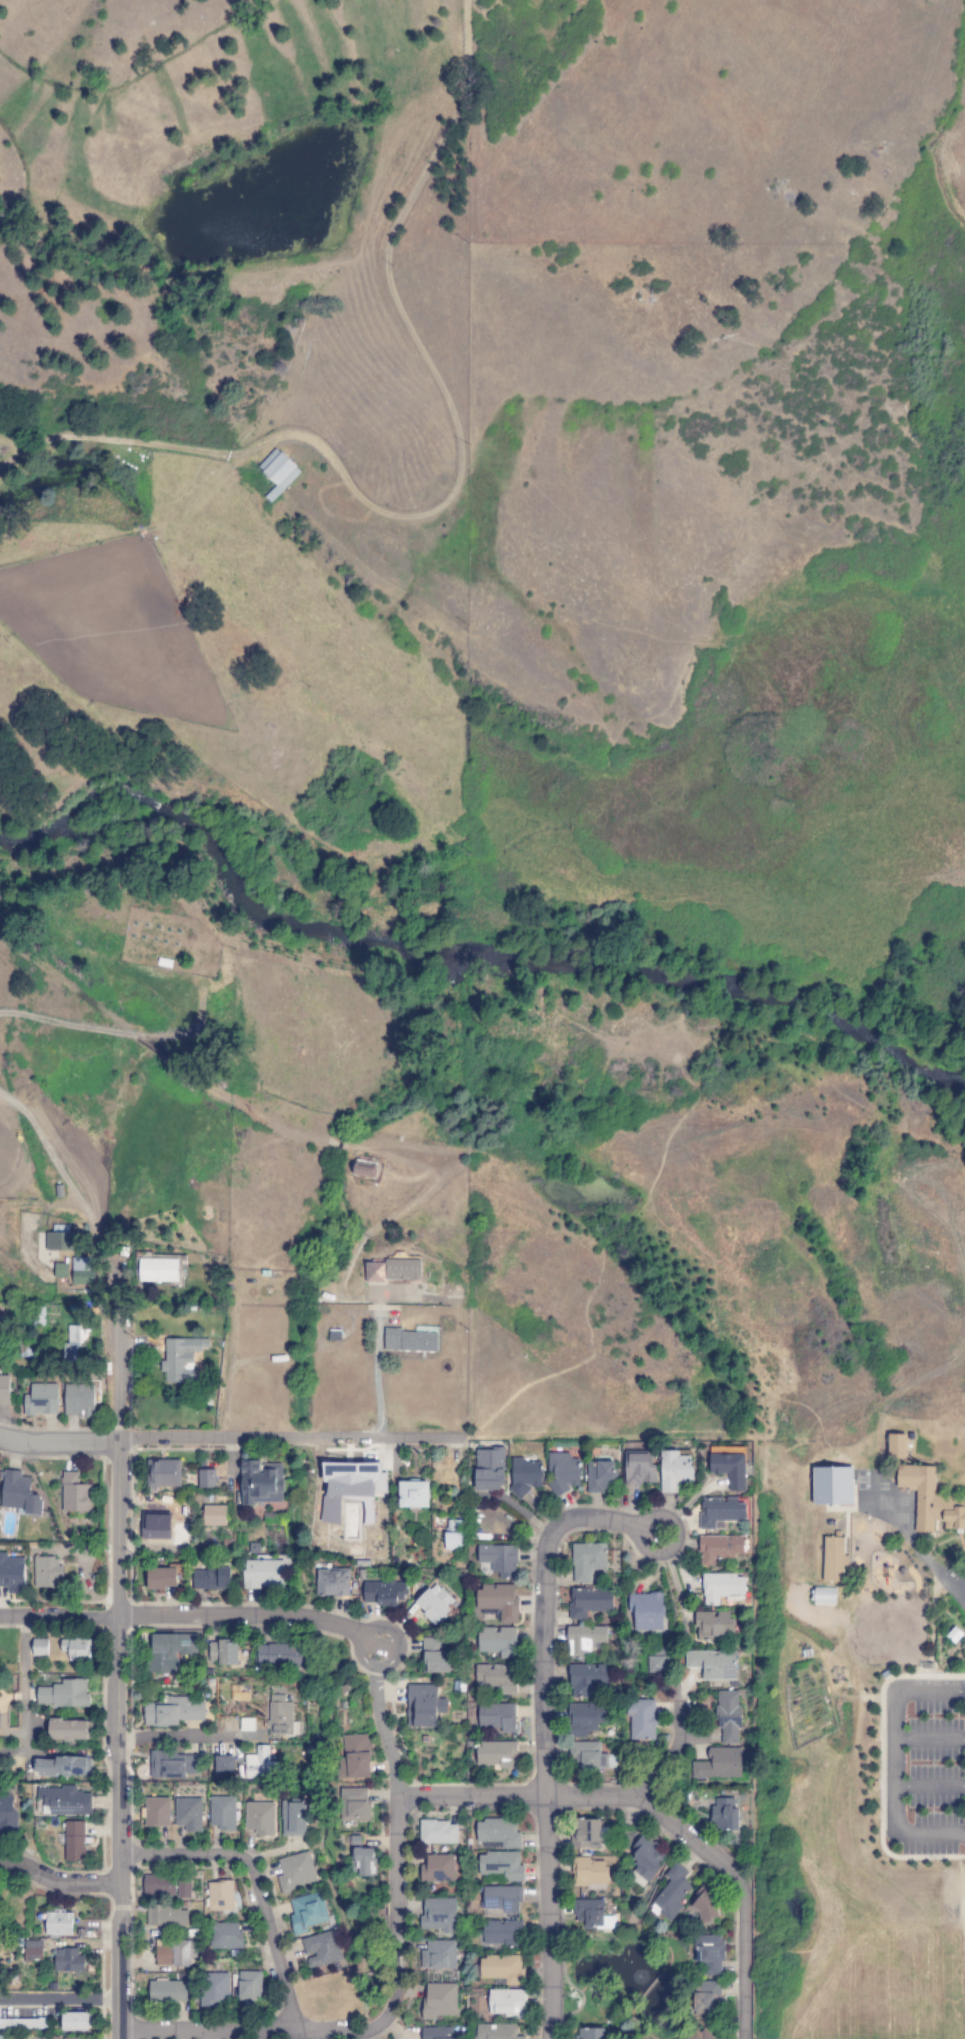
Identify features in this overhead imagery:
building: (276, 470)
road: (456, 479)
river: (461, 960)
road: (206, 1086)
building: (364, 1170)
building: (61, 1239)
building: (401, 1268)
building: (61, 1270)
building: (160, 1270)
building: (84, 1271)
building: (412, 1339)
building: (181, 1359)
road: (376, 1380)
building: (5, 1390)
building: (42, 1400)
building: (79, 1400)
road: (288, 1436)
road: (58, 1441)
building: (900, 1443)
building: (729, 1467)
building: (640, 1469)
building: (489, 1470)
building: (675, 1471)
building: (164, 1473)
building: (564, 1473)
building: (525, 1477)
building: (600, 1477)
building: (207, 1479)
building: (262, 1483)
building: (836, 1485)
building: (351, 1488)
building: (20, 1494)
building: (75, 1494)
building: (414, 1495)
building: (933, 1500)
building: (720, 1511)
building: (215, 1515)
road: (108, 1531)
building: (454, 1535)
building: (719, 1548)
building: (836, 1557)
building: (499, 1559)
building: (587, 1561)
building: (46, 1572)
building: (12, 1574)
building: (264, 1574)
building: (162, 1578)
building: (212, 1579)
building: (333, 1582)
building: (721, 1587)
building: (383, 1593)
building: (499, 1602)
building: (589, 1602)
building: (436, 1604)
building: (647, 1611)
road: (238, 1614)
road: (57, 1615)
building: (713, 1625)
building: (585, 1639)
building: (498, 1641)
building: (40, 1647)
building: (77, 1648)
building: (171, 1651)
building: (223, 1653)
road: (395, 1654)
building: (281, 1656)
building: (435, 1657)
road: (22, 1660)
building: (657, 1660)
building: (713, 1665)
road: (114, 1675)
building: (497, 1678)
building: (589, 1679)
building: (64, 1694)
building: (424, 1706)
building: (173, 1712)
building: (280, 1716)
building: (497, 1717)
building: (729, 1717)
building: (586, 1718)
building: (642, 1719)
building: (0, 1720)
road: (541, 1727)
building: (70, 1730)
road: (383, 1731)
road: (186, 1734)
road: (929, 1737)
road: (672, 1749)
building: (496, 1754)
building: (587, 1756)
building: (355, 1758)
road: (894, 1761)
building: (259, 1764)
building: (719, 1764)
building: (173, 1765)
building: (226, 1766)
building: (63, 1767)
road: (929, 1784)
building: (65, 1801)
building: (354, 1805)
building: (156, 1812)
building: (223, 1813)
building: (8, 1814)
building: (189, 1814)
building: (724, 1815)
building: (260, 1818)
building: (294, 1819)
building: (438, 1832)
building: (586, 1833)
building: (498, 1834)
building: (75, 1841)
road: (395, 1857)
building: (647, 1858)
building: (363, 1861)
building: (502, 1866)
building: (438, 1869)
building: (296, 1872)
building: (589, 1872)
road: (57, 1877)
road: (252, 1883)
building: (159, 1885)
building: (184, 1889)
building: (672, 1893)
building: (220, 1896)
building: (502, 1901)
building: (704, 1905)
building: (307, 1912)
building: (439, 1915)
building: (593, 1915)
building: (166, 1916)
building: (59, 1923)
building: (503, 1933)
building: (225, 1936)
building: (321, 1949)
building: (33, 1951)
building: (175, 1953)
building: (709, 1954)
building: (439, 1955)
building: (69, 1960)
road: (742, 1960)
building: (503, 1969)
building: (250, 1985)
building: (215, 1990)
building: (168, 1991)
road: (60, 1997)
building: (707, 1998)
building: (439, 2000)
building: (507, 2002)
building: (76, 2021)
building: (24, 2024)
building: (497, 2031)
building: (438, 2033)
building: (590, 2033)
road: (296, 2034)
building: (701, 2034)
building: (53, 2038)
building: (71, 2038)

